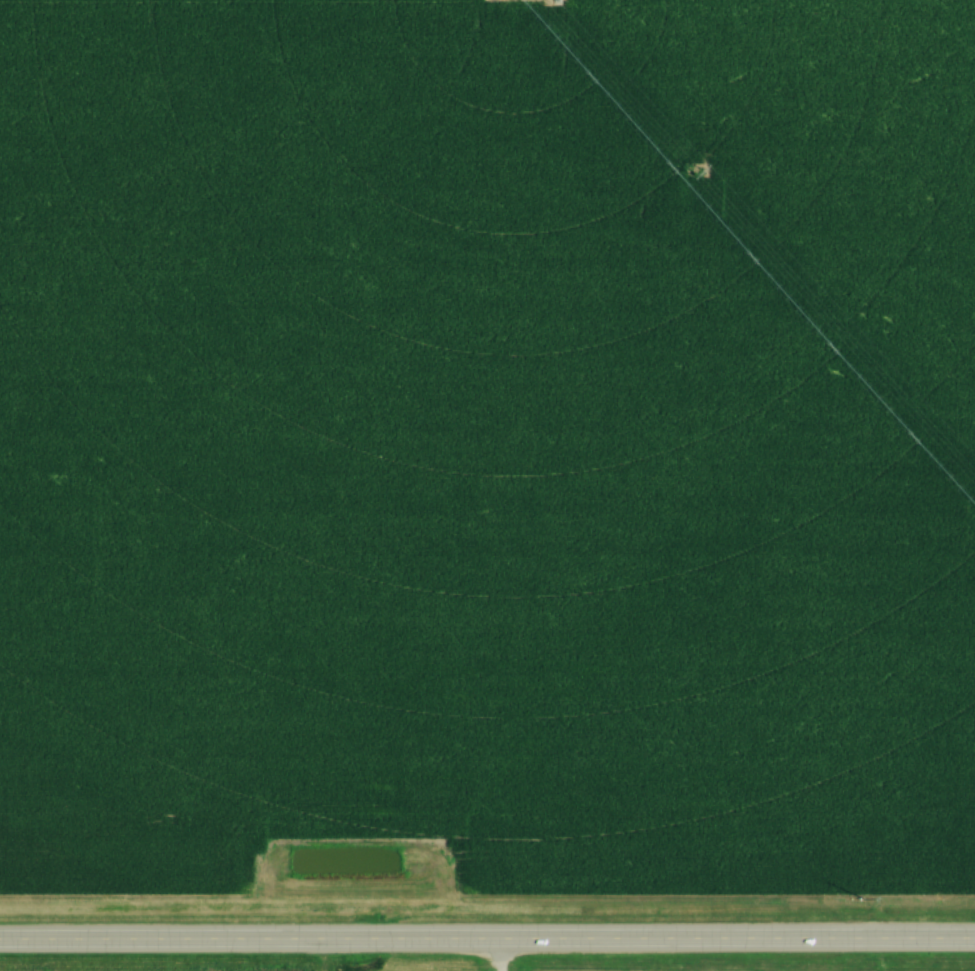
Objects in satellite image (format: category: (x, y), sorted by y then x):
power tower: (696, 173)
road: (487, 944)
road: (497, 957)

